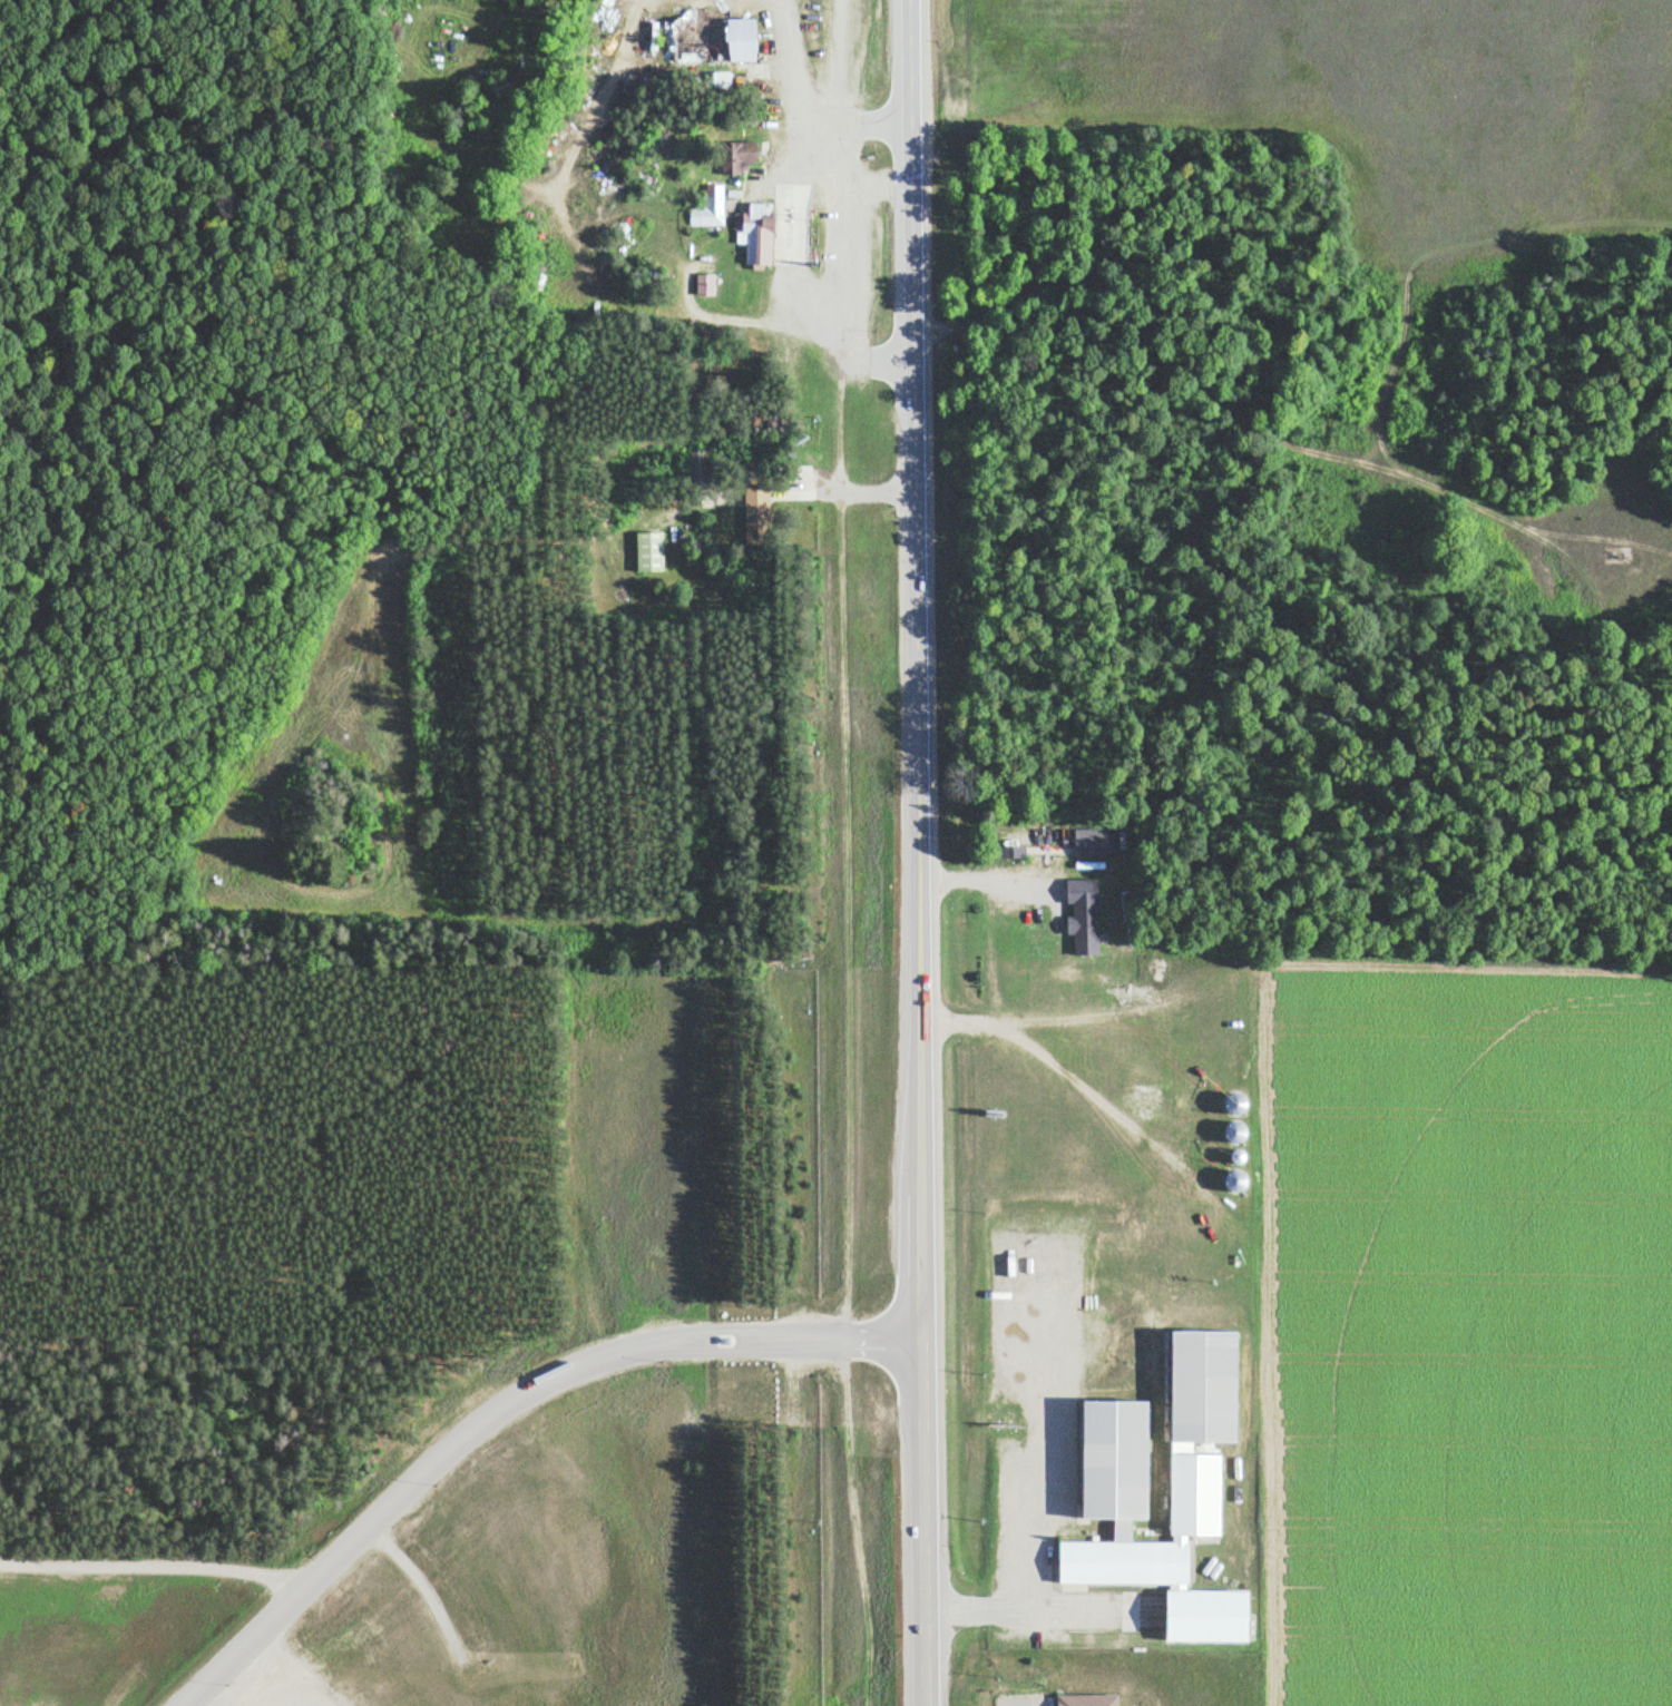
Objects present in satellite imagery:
building: (711, 37)
building: (718, 79)
road: (881, 117)
road: (810, 130)
building: (729, 156)
building: (705, 203)
road: (788, 220)
building: (752, 228)
building: (702, 281)
road: (820, 310)
road: (884, 359)
road: (1345, 457)
road: (789, 487)
road: (860, 488)
building: (754, 512)
road: (830, 531)
building: (646, 549)
petroleum well: (1615, 553)
building: (1025, 837)
building: (1092, 839)
road: (915, 853)
road: (986, 875)
road: (1072, 1078)
building: (1232, 1101)
road: (734, 1330)
road: (903, 1337)
road: (736, 1347)
road: (1037, 1424)
building: (1114, 1482)
road: (374, 1520)
road: (154, 1563)
road: (1040, 1609)
building: (1079, 1686)
building: (1083, 1698)
road: (1021, 1703)

